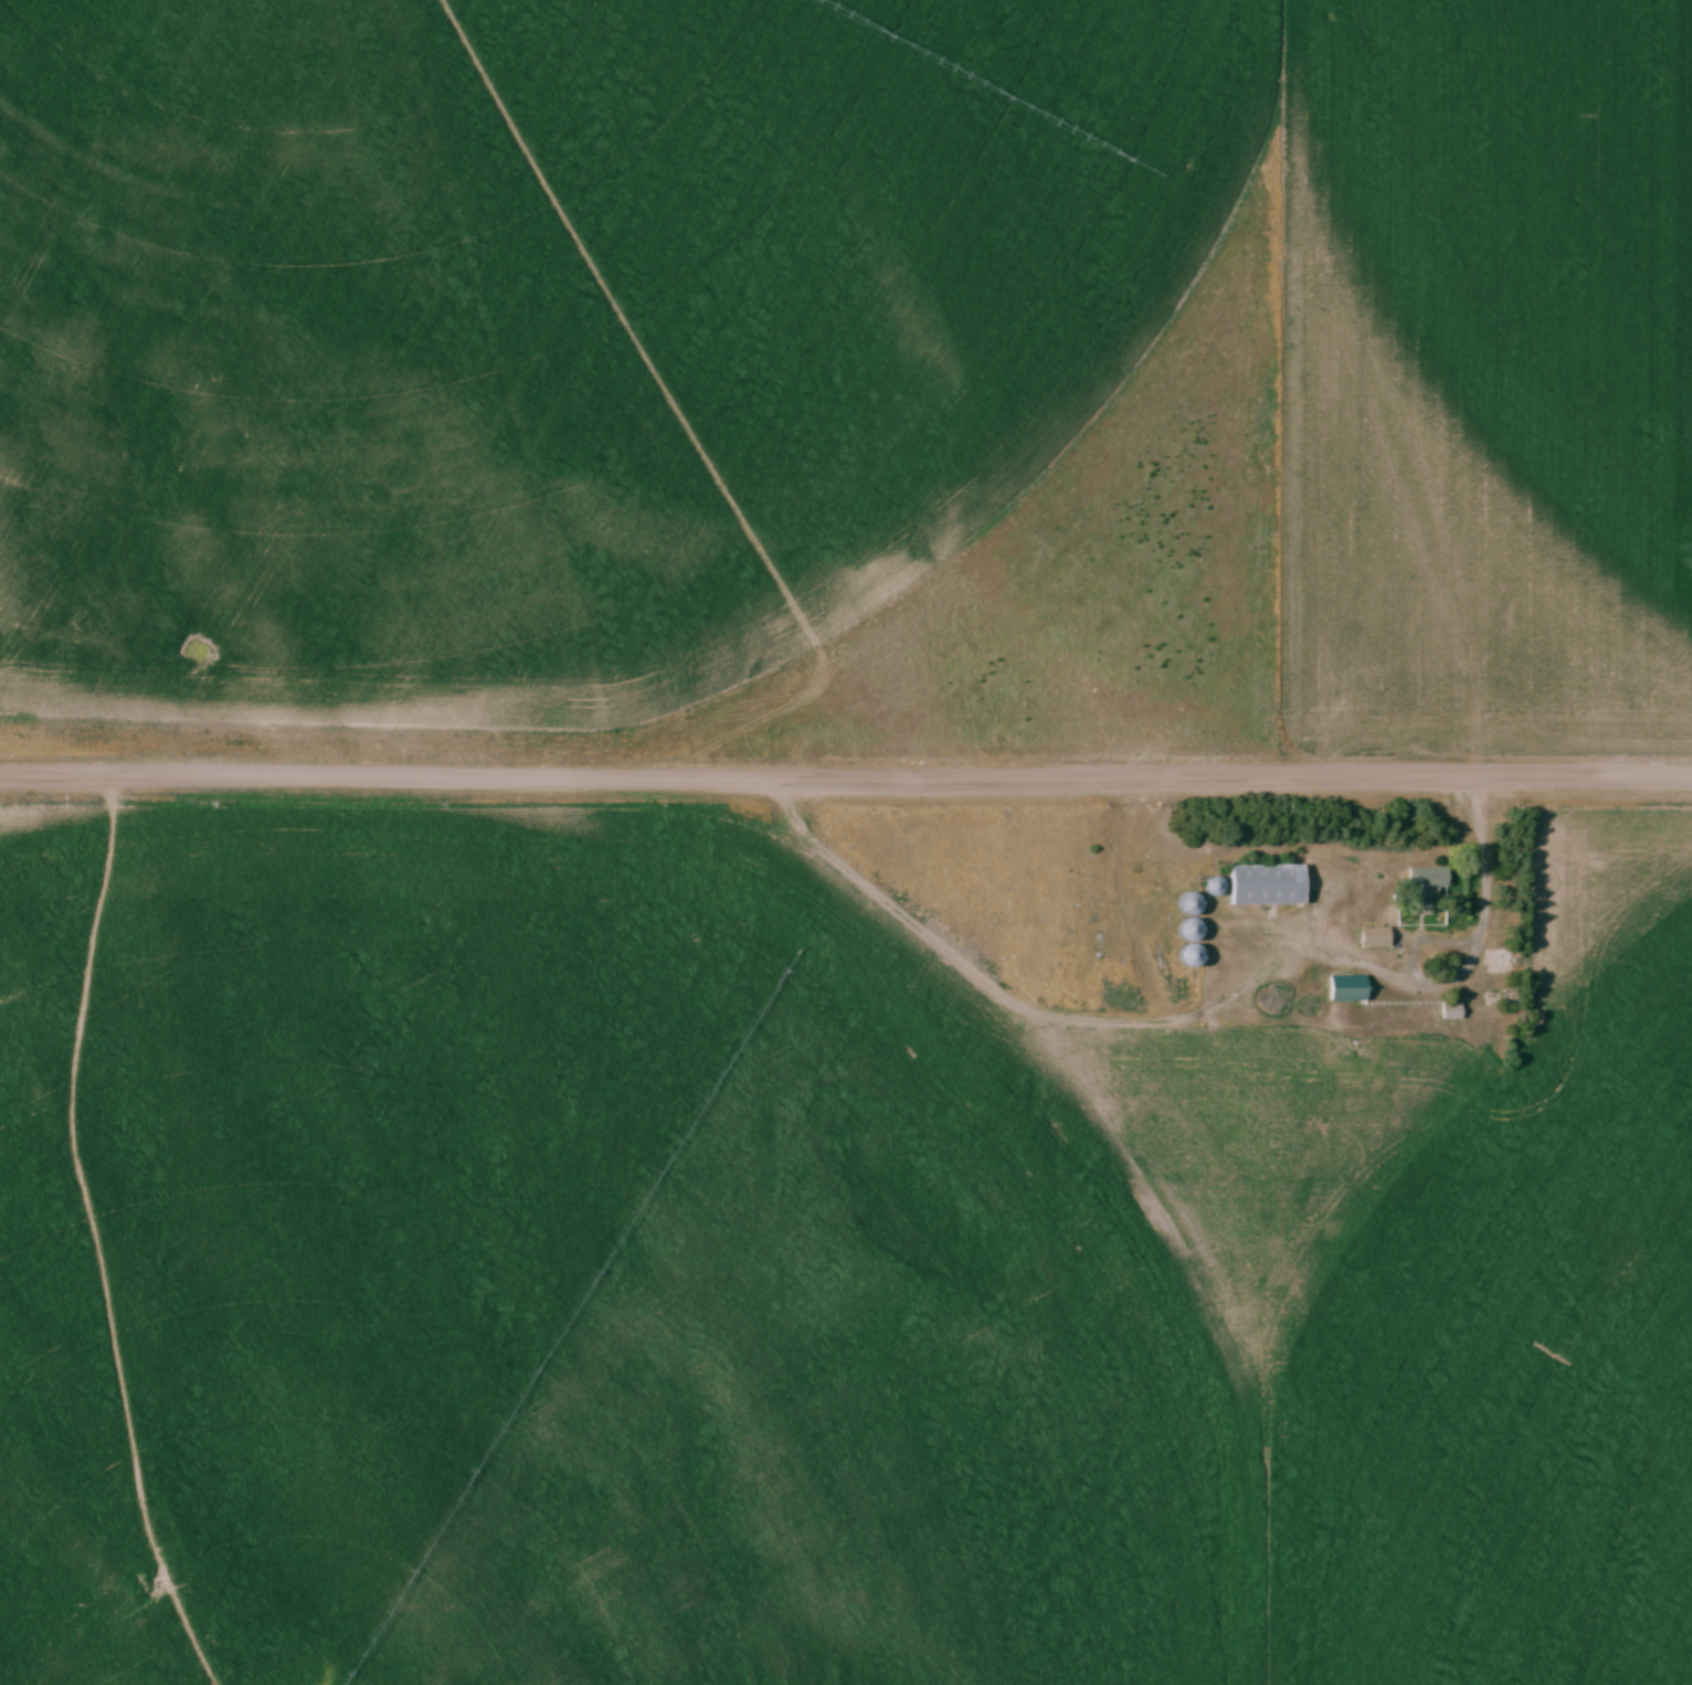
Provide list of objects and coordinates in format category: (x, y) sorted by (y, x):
road: (846, 776)
road: (1487, 861)
building: (1269, 884)
building: (1425, 886)
building: (1193, 930)
building: (1376, 937)
road: (1414, 961)
building: (1350, 988)
building: (1452, 1011)

